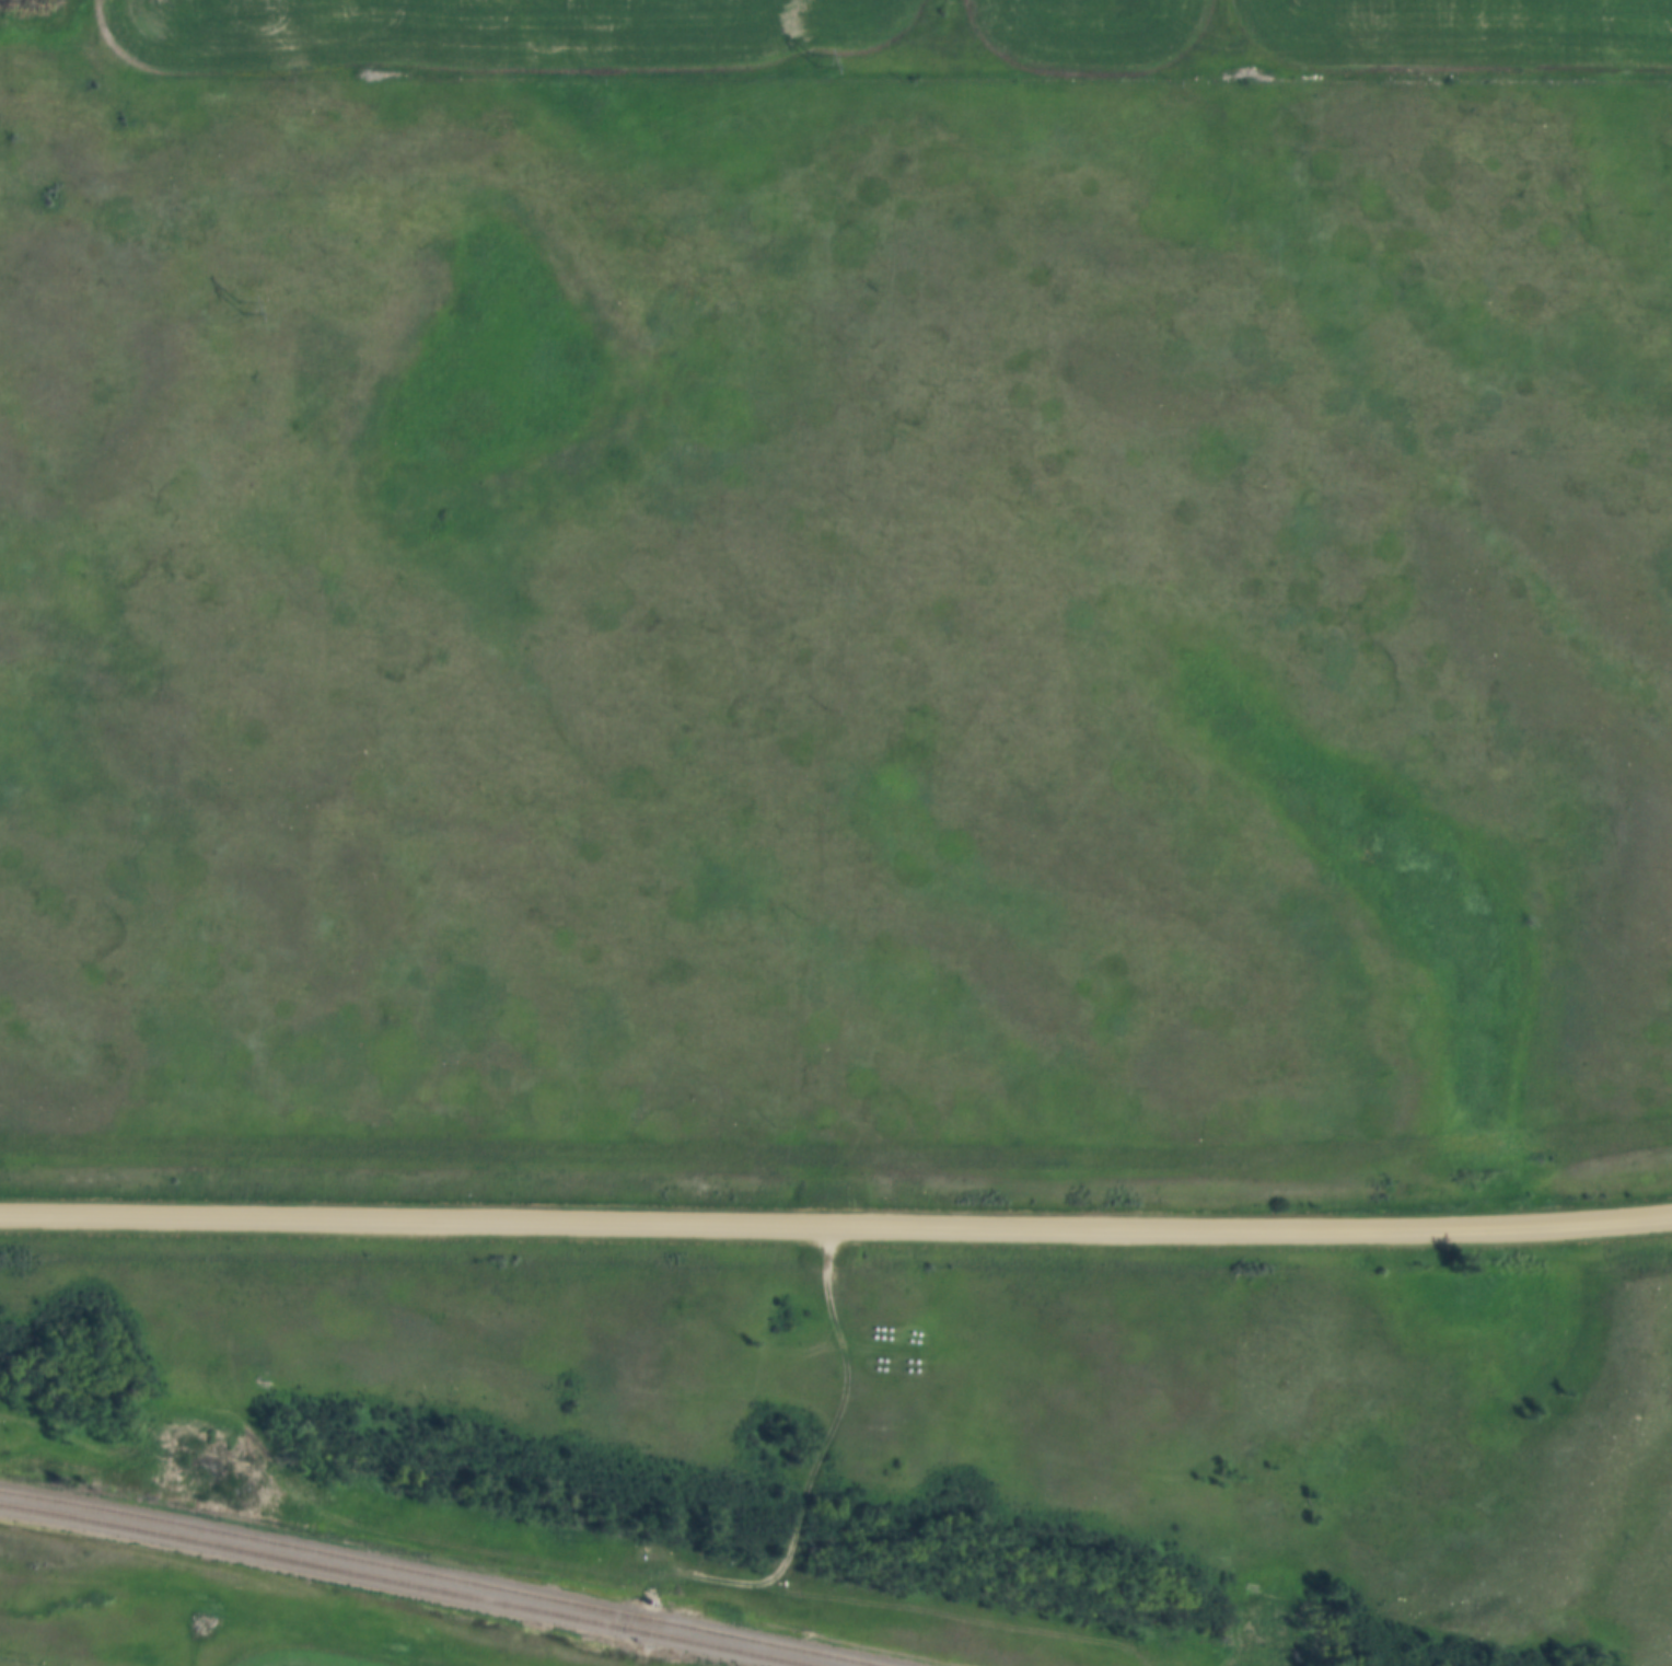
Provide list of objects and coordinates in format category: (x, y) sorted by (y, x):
power tower: (813, 59)
power tower: (240, 306)
road: (836, 1228)
railway: (438, 1577)
railway: (403, 1582)

